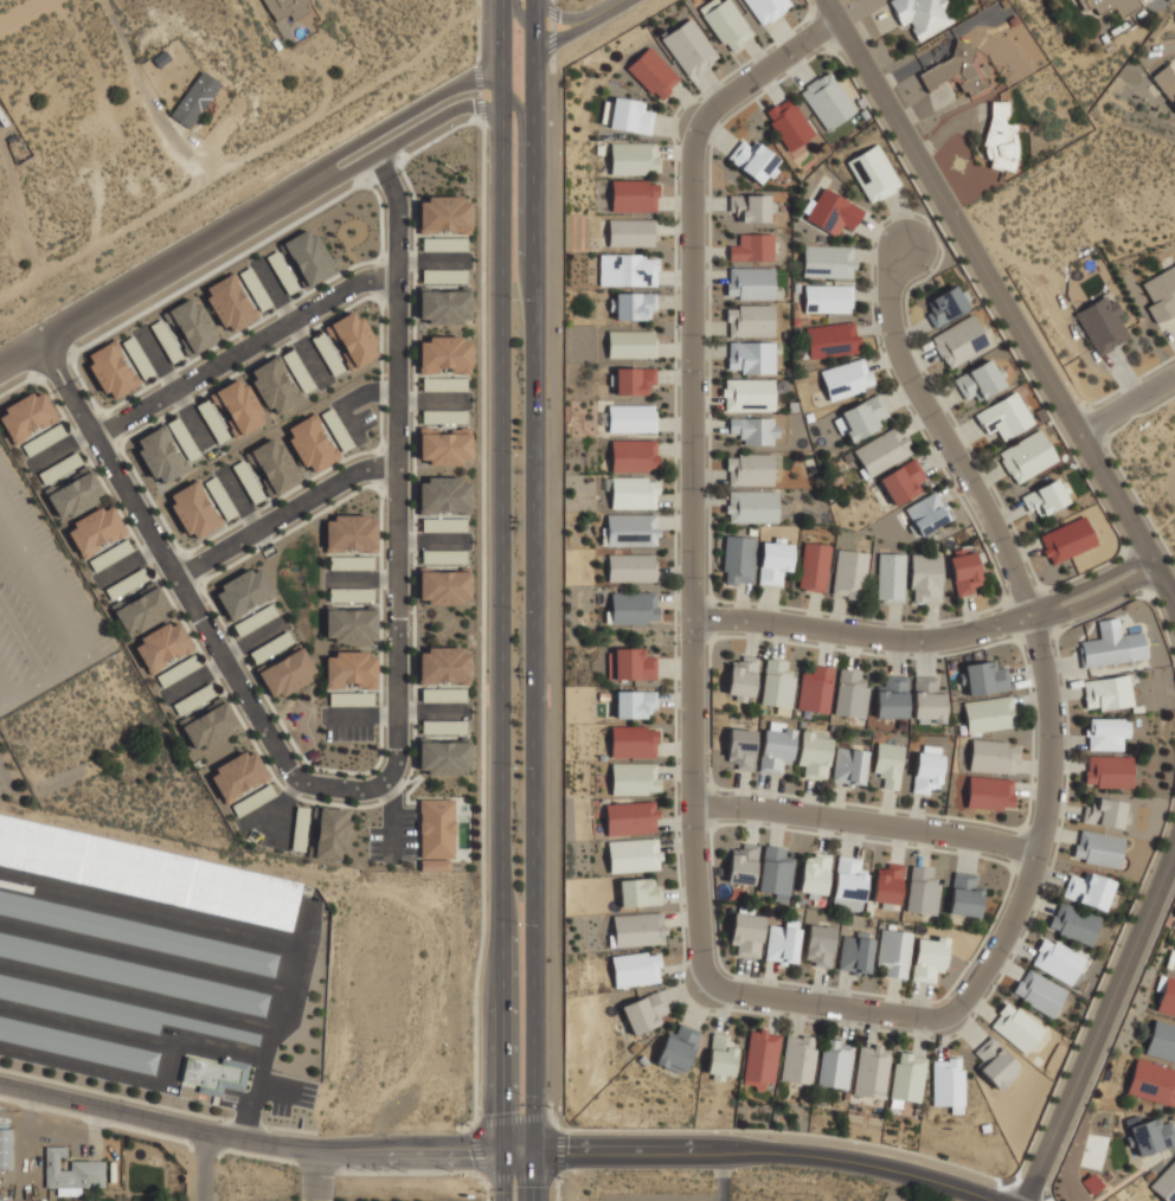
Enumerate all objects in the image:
building: (1110, 5)
building: (284, 7)
road: (601, 7)
building: (765, 8)
road: (24, 13)
building: (922, 14)
road: (557, 15)
building: (726, 23)
road: (526, 25)
road: (559, 33)
road: (482, 43)
building: (689, 46)
building: (955, 70)
building: (653, 72)
building: (1166, 81)
building: (194, 97)
building: (827, 98)
road: (394, 113)
building: (627, 114)
building: (788, 121)
road: (400, 133)
building: (1000, 135)
building: (633, 156)
building: (755, 160)
building: (872, 172)
building: (634, 195)
road: (516, 199)
building: (749, 206)
building: (832, 210)
building: (443, 213)
building: (631, 232)
building: (443, 243)
building: (751, 246)
building: (308, 256)
building: (827, 261)
building: (627, 269)
building: (282, 270)
road: (149, 274)
building: (443, 275)
building: (749, 282)
building: (255, 287)
building: (1160, 290)
building: (827, 297)
building: (230, 301)
road: (1003, 302)
building: (945, 304)
building: (443, 306)
building: (633, 306)
building: (749, 319)
building: (1103, 322)
building: (184, 328)
building: (353, 338)
building: (832, 338)
building: (959, 340)
road: (238, 342)
building: (629, 342)
building: (443, 353)
building: (137, 355)
building: (750, 355)
road: (62, 361)
building: (111, 368)
road: (44, 373)
building: (847, 377)
building: (981, 379)
building: (281, 380)
building: (634, 380)
building: (443, 383)
building: (747, 393)
road: (1128, 407)
building: (230, 409)
building: (443, 415)
building: (1004, 415)
building: (863, 416)
building: (631, 418)
building: (31, 420)
building: (755, 428)
building: (312, 443)
building: (443, 447)
building: (166, 449)
building: (882, 450)
building: (1027, 455)
building: (633, 456)
building: (274, 465)
building: (58, 467)
building: (749, 468)
building: (248, 480)
building: (903, 481)
building: (76, 494)
building: (633, 494)
building: (443, 495)
building: (219, 496)
building: (1046, 496)
building: (751, 506)
road: (274, 508)
building: (193, 509)
building: (925, 513)
building: (443, 524)
building: (96, 528)
building: (629, 529)
building: (352, 532)
building: (1066, 539)
road: (1000, 540)
building: (110, 553)
building: (737, 559)
building: (351, 561)
building: (775, 563)
building: (814, 565)
building: (630, 567)
building: (964, 570)
building: (849, 573)
building: (890, 576)
building: (925, 578)
building: (126, 583)
building: (444, 586)
building: (242, 590)
building: (351, 593)
road: (534, 599)
road: (501, 600)
building: (633, 608)
building: (142, 609)
building: (351, 623)
road: (931, 638)
building: (162, 643)
building: (1110, 644)
building: (270, 646)
building: (443, 663)
building: (631, 663)
building: (351, 668)
building: (176, 669)
building: (287, 672)
building: (980, 676)
building: (740, 677)
road: (695, 682)
building: (776, 685)
building: (815, 688)
building: (849, 693)
building: (1106, 693)
building: (443, 694)
building: (891, 695)
building: (193, 698)
building: (351, 698)
building: (927, 699)
building: (635, 702)
building: (988, 713)
building: (210, 725)
building: (444, 726)
road: (386, 730)
building: (1106, 733)
building: (633, 741)
building: (739, 746)
building: (775, 746)
building: (814, 751)
building: (993, 754)
building: (443, 756)
building: (849, 764)
building: (886, 765)
building: (926, 768)
building: (1107, 771)
building: (238, 773)
building: (634, 777)
building: (989, 791)
building: (252, 798)
building: (1102, 810)
building: (630, 817)
road: (867, 822)
building: (436, 828)
building: (300, 829)
building: (330, 833)
building: (1097, 848)
building: (633, 854)
building: (741, 863)
building: (148, 872)
building: (775, 873)
building: (813, 874)
building: (848, 878)
building: (886, 884)
building: (1086, 888)
building: (638, 891)
building: (920, 891)
building: (964, 894)
building: (847, 904)
building: (1072, 923)
building: (637, 929)
building: (136, 933)
building: (745, 933)
building: (782, 940)
building: (817, 944)
building: (854, 951)
building: (892, 951)
building: (927, 956)
building: (1171, 957)
building: (1057, 961)
building: (636, 968)
building: (134, 974)
building: (1038, 993)
building: (1166, 995)
building: (117, 1010)
building: (644, 1010)
road: (1102, 1022)
building: (1015, 1026)
building: (1161, 1041)
building: (77, 1045)
building: (678, 1047)
building: (721, 1055)
building: (760, 1058)
building: (797, 1058)
building: (834, 1062)
building: (994, 1062)
building: (871, 1070)
building: (213, 1072)
building: (906, 1075)
building: (948, 1080)
building: (1151, 1081)
road: (476, 1105)
road: (512, 1118)
road: (567, 1129)
building: (1151, 1133)
building: (5, 1147)
road: (475, 1150)
road: (497, 1151)
traffic signals: (506, 1151)
traffic signals: (535, 1151)
road: (560, 1154)
road: (206, 1168)
building: (71, 1170)
road: (467, 1170)
road: (521, 1178)
building: (1166, 1181)
road: (558, 1187)

